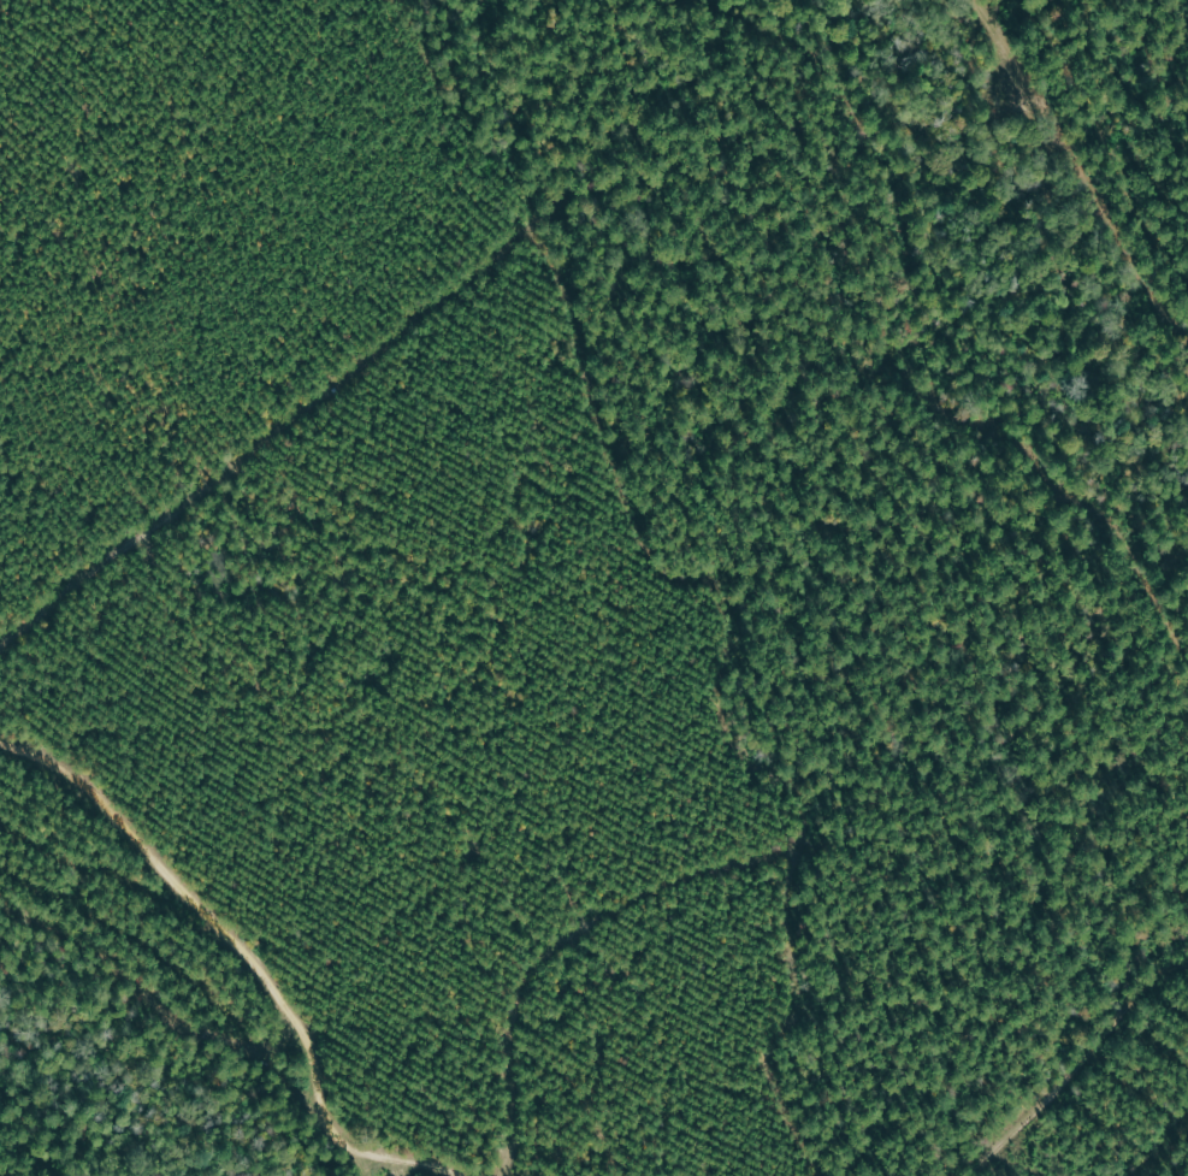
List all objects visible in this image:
road: (255, 936)
road: (1051, 1054)

